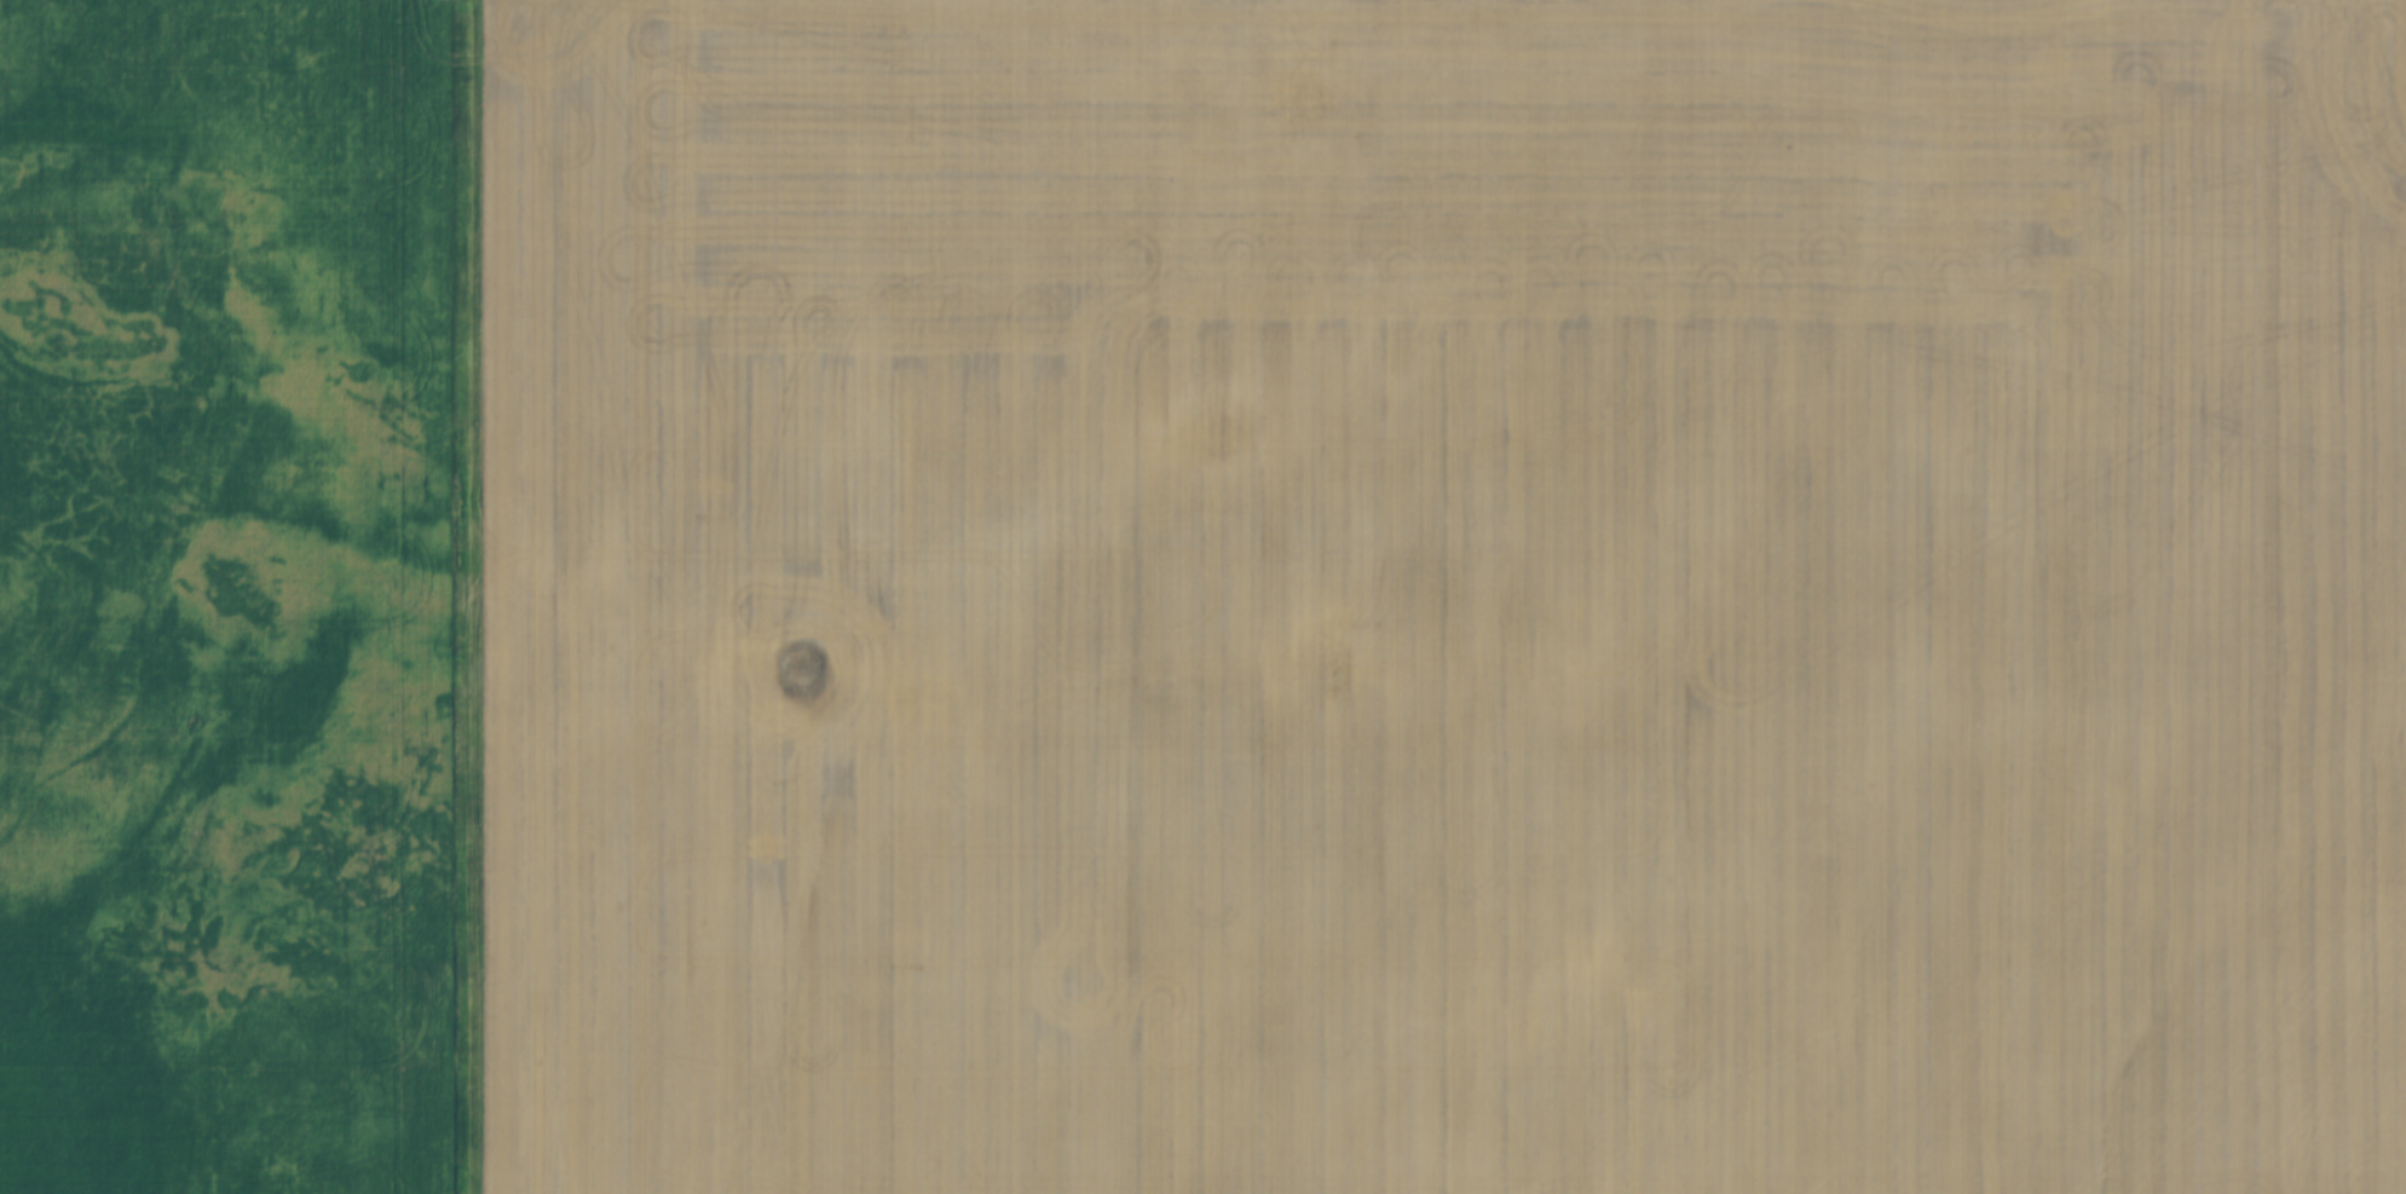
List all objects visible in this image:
road: (483, 596)

